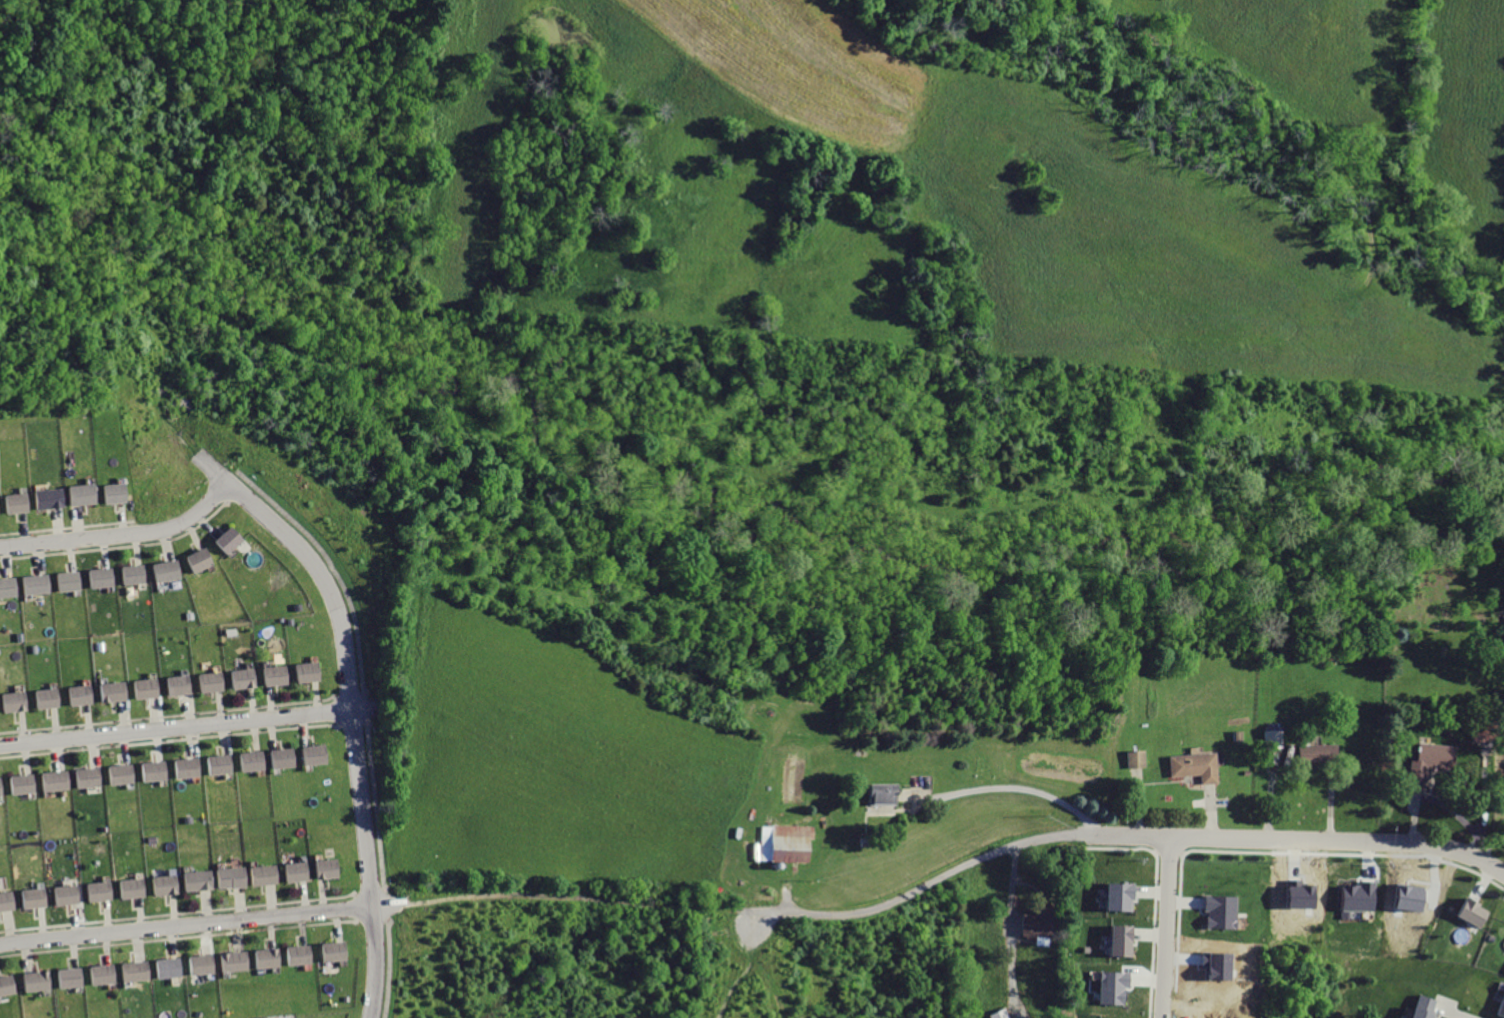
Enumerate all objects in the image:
building: (118, 491)
building: (85, 493)
building: (52, 498)
building: (20, 501)
building: (1, 504)
road: (123, 534)
building: (232, 540)
building: (204, 560)
road: (337, 569)
building: (171, 571)
building: (136, 574)
building: (105, 577)
building: (72, 582)
building: (40, 584)
building: (10, 587)
road: (350, 651)
building: (311, 671)
building: (278, 674)
building: (246, 678)
building: (214, 681)
building: (181, 684)
building: (148, 688)
building: (116, 691)
building: (83, 694)
building: (50, 698)
building: (18, 701)
road: (370, 707)
road: (177, 727)
building: (1482, 731)
building: (1234, 736)
building: (1271, 736)
building: (1318, 753)
building: (317, 754)
building: (285, 757)
building: (1133, 758)
building: (1431, 759)
building: (254, 760)
building: (221, 763)
building: (1193, 766)
building: (190, 767)
building: (156, 770)
building: (124, 773)
building: (92, 776)
building: (58, 780)
building: (25, 783)
building: (3, 786)
road: (1004, 787)
building: (880, 795)
road: (379, 806)
road: (1141, 839)
building: (794, 843)
building: (329, 868)
building: (299, 872)
building: (267, 874)
building: (234, 877)
building: (201, 880)
building: (168, 885)
building: (135, 887)
road: (543, 889)
building: (103, 891)
building: (70, 894)
building: (1117, 896)
building: (1357, 896)
building: (37, 898)
building: (9, 901)
building: (1464, 904)
building: (1218, 911)
building: (1039, 923)
road: (188, 926)
road: (1166, 929)
building: (1120, 940)
building: (1085, 948)
building: (336, 951)
building: (301, 955)
building: (270, 958)
building: (236, 959)
road: (378, 962)
road: (389, 962)
building: (205, 964)
building: (172, 967)
building: (139, 971)
building: (107, 973)
building: (74, 977)
building: (41, 980)
building: (9, 984)
building: (1112, 986)
building: (1501, 1004)
building: (1423, 1007)
road: (1458, 1013)
building: (999, 1014)

